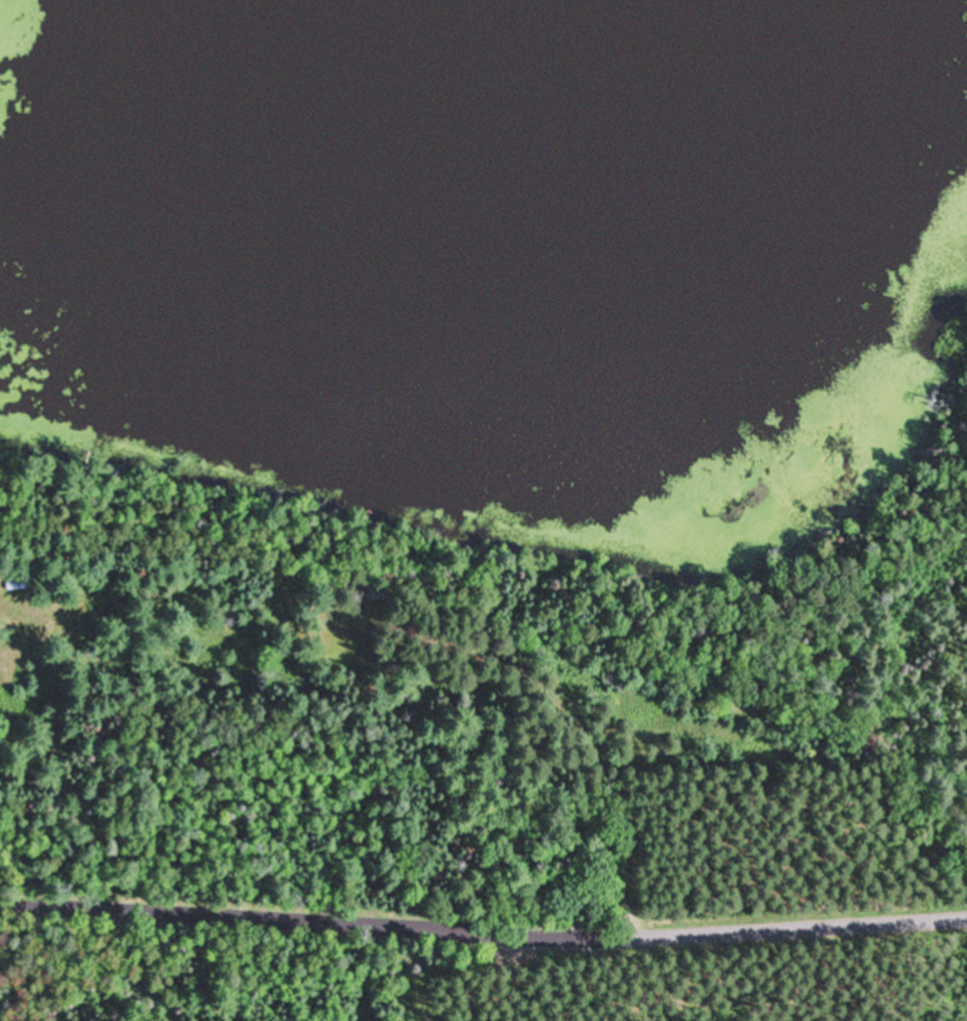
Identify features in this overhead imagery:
building: (13, 585)
building: (365, 592)
road: (575, 798)
road: (484, 934)

